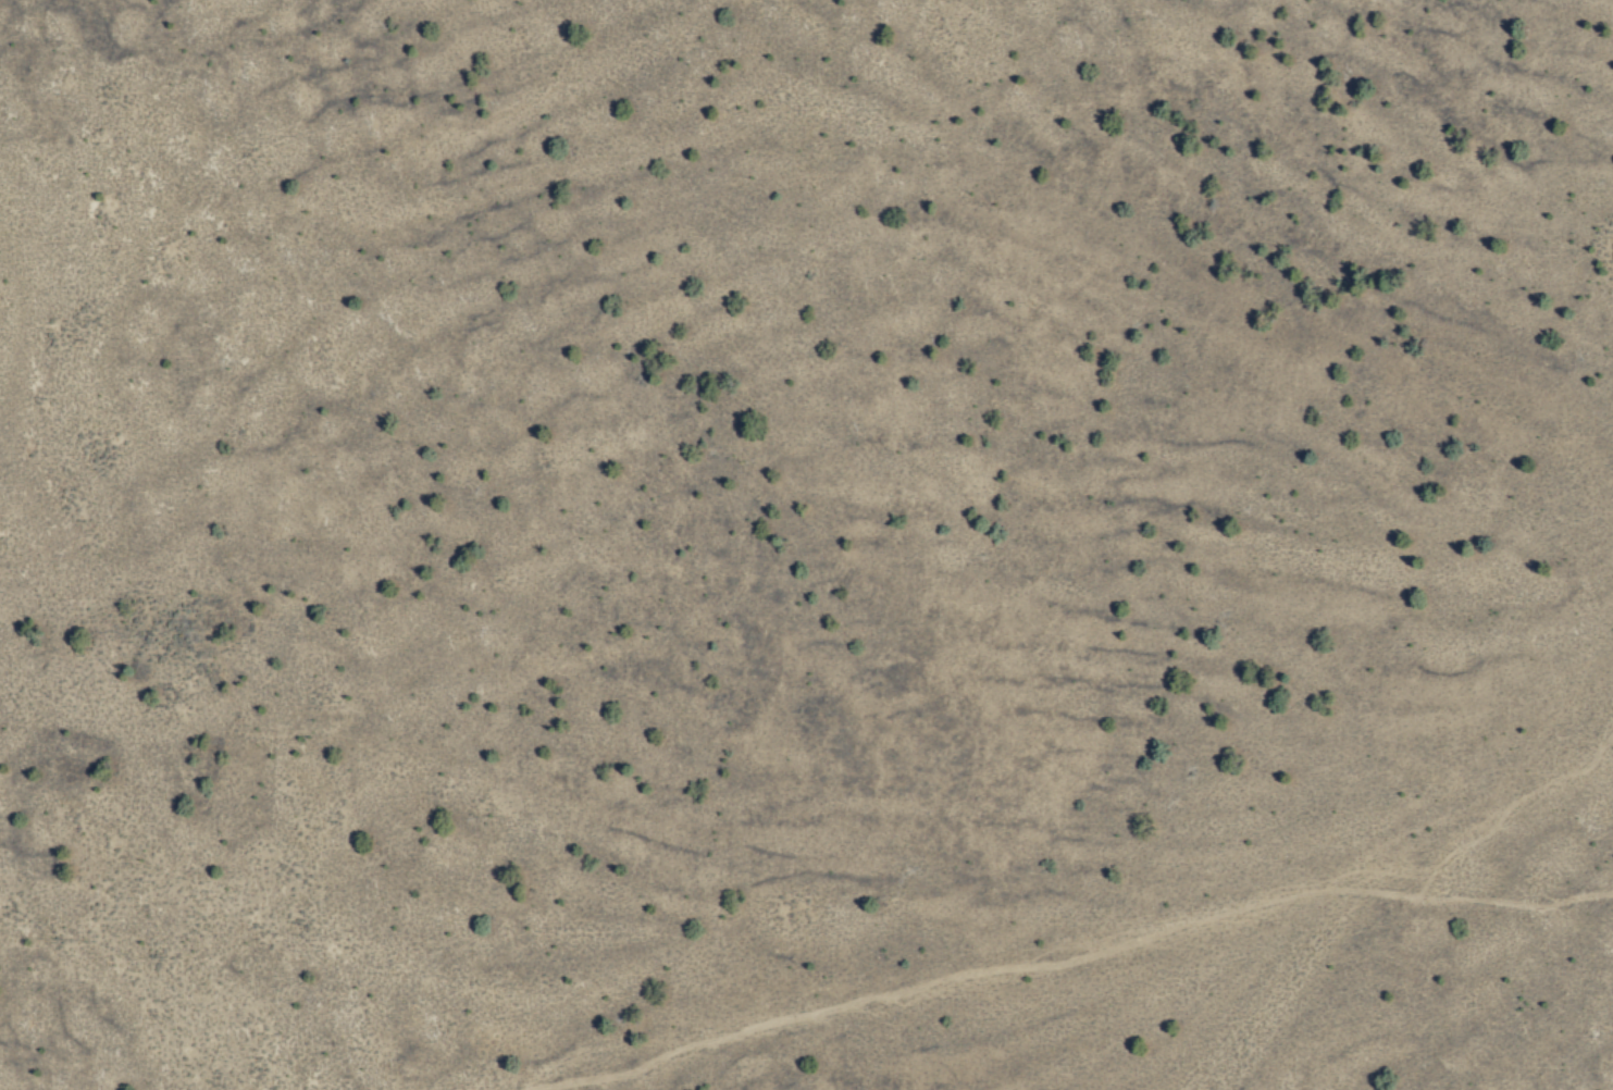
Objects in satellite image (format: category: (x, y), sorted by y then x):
road: (1446, 903)

